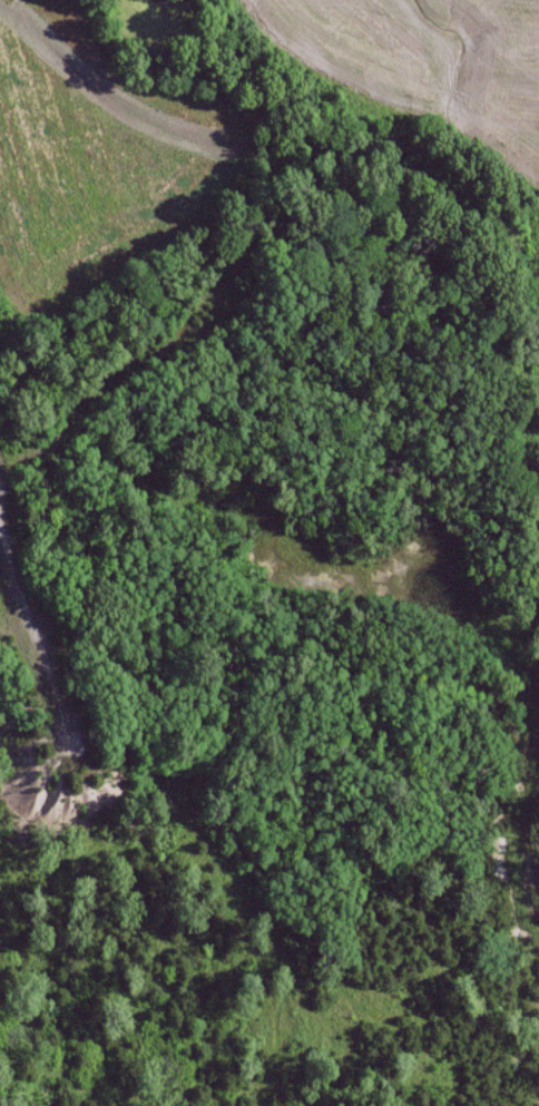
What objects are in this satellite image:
road: (265, 192)
road: (43, 646)

